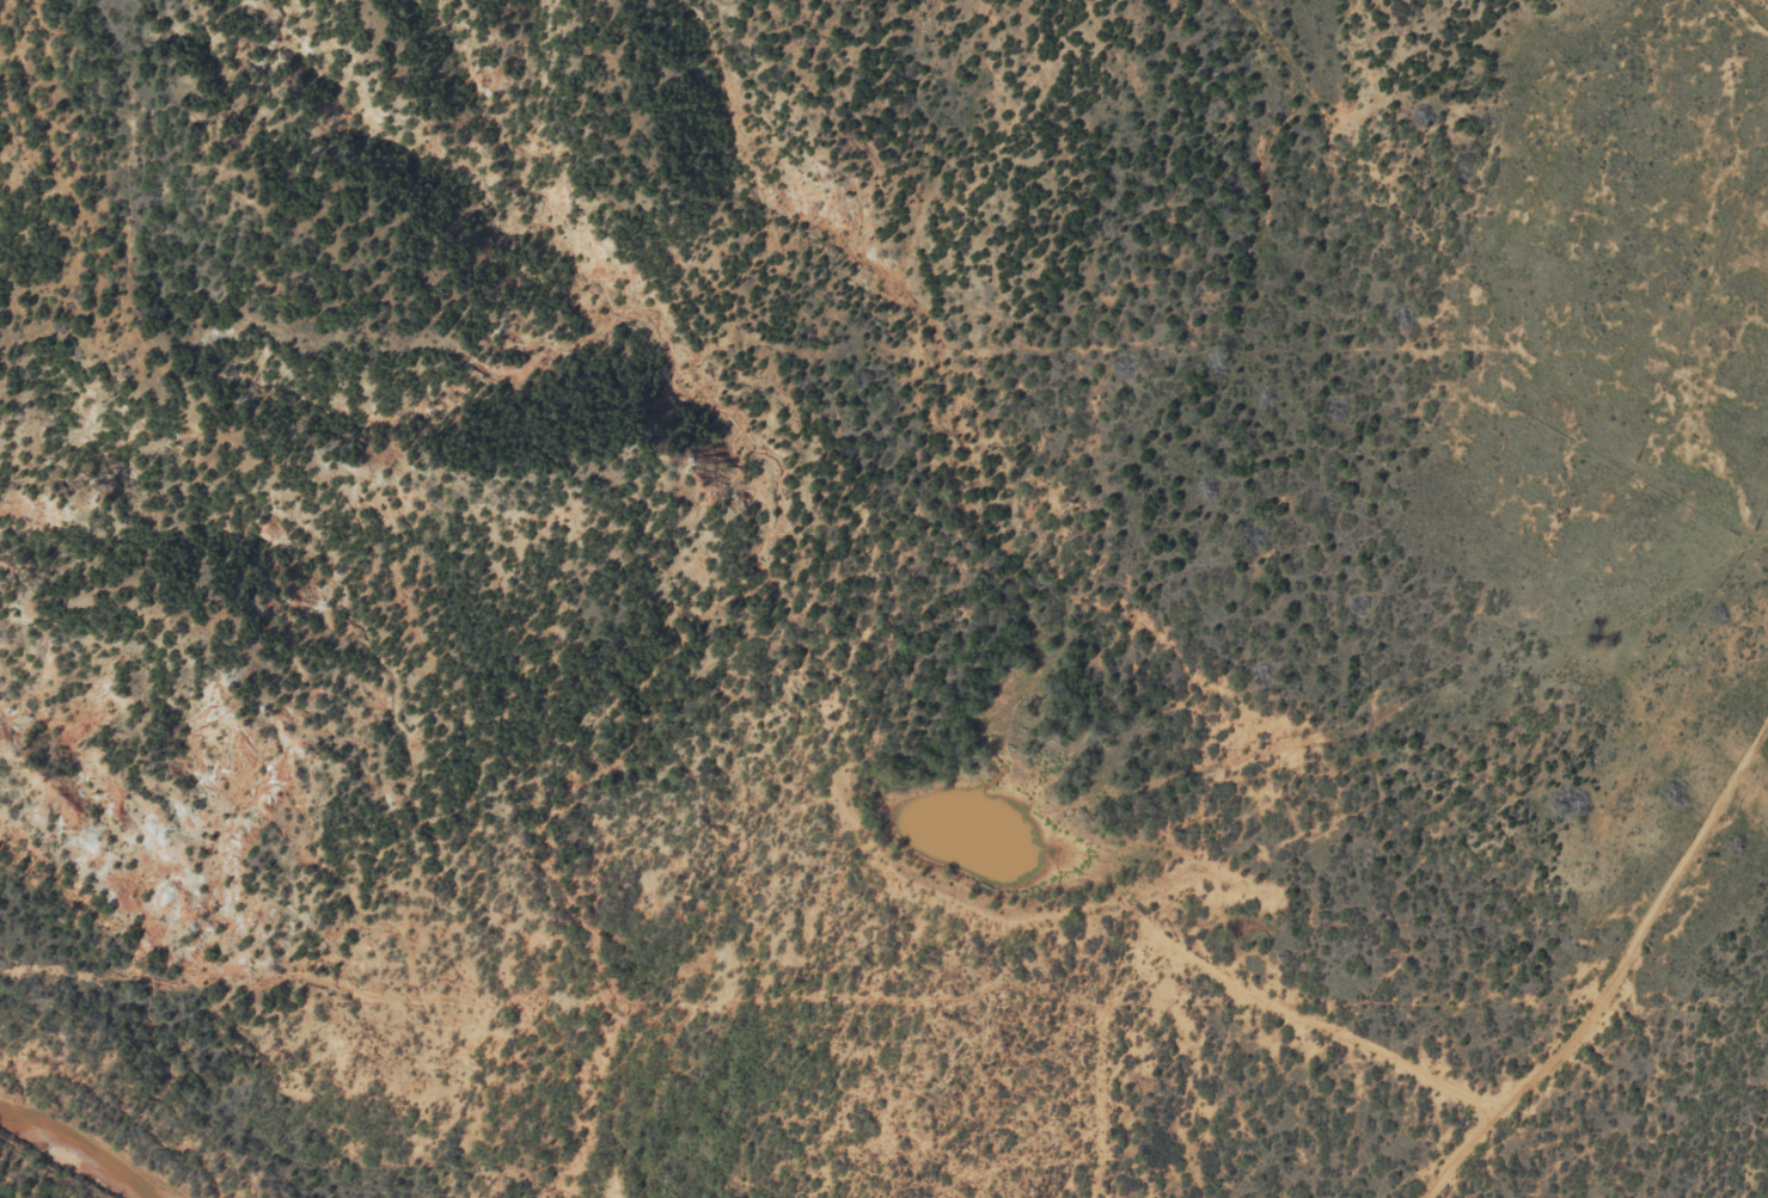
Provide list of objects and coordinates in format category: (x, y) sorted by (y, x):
road: (1613, 959)
river: (81, 1151)

